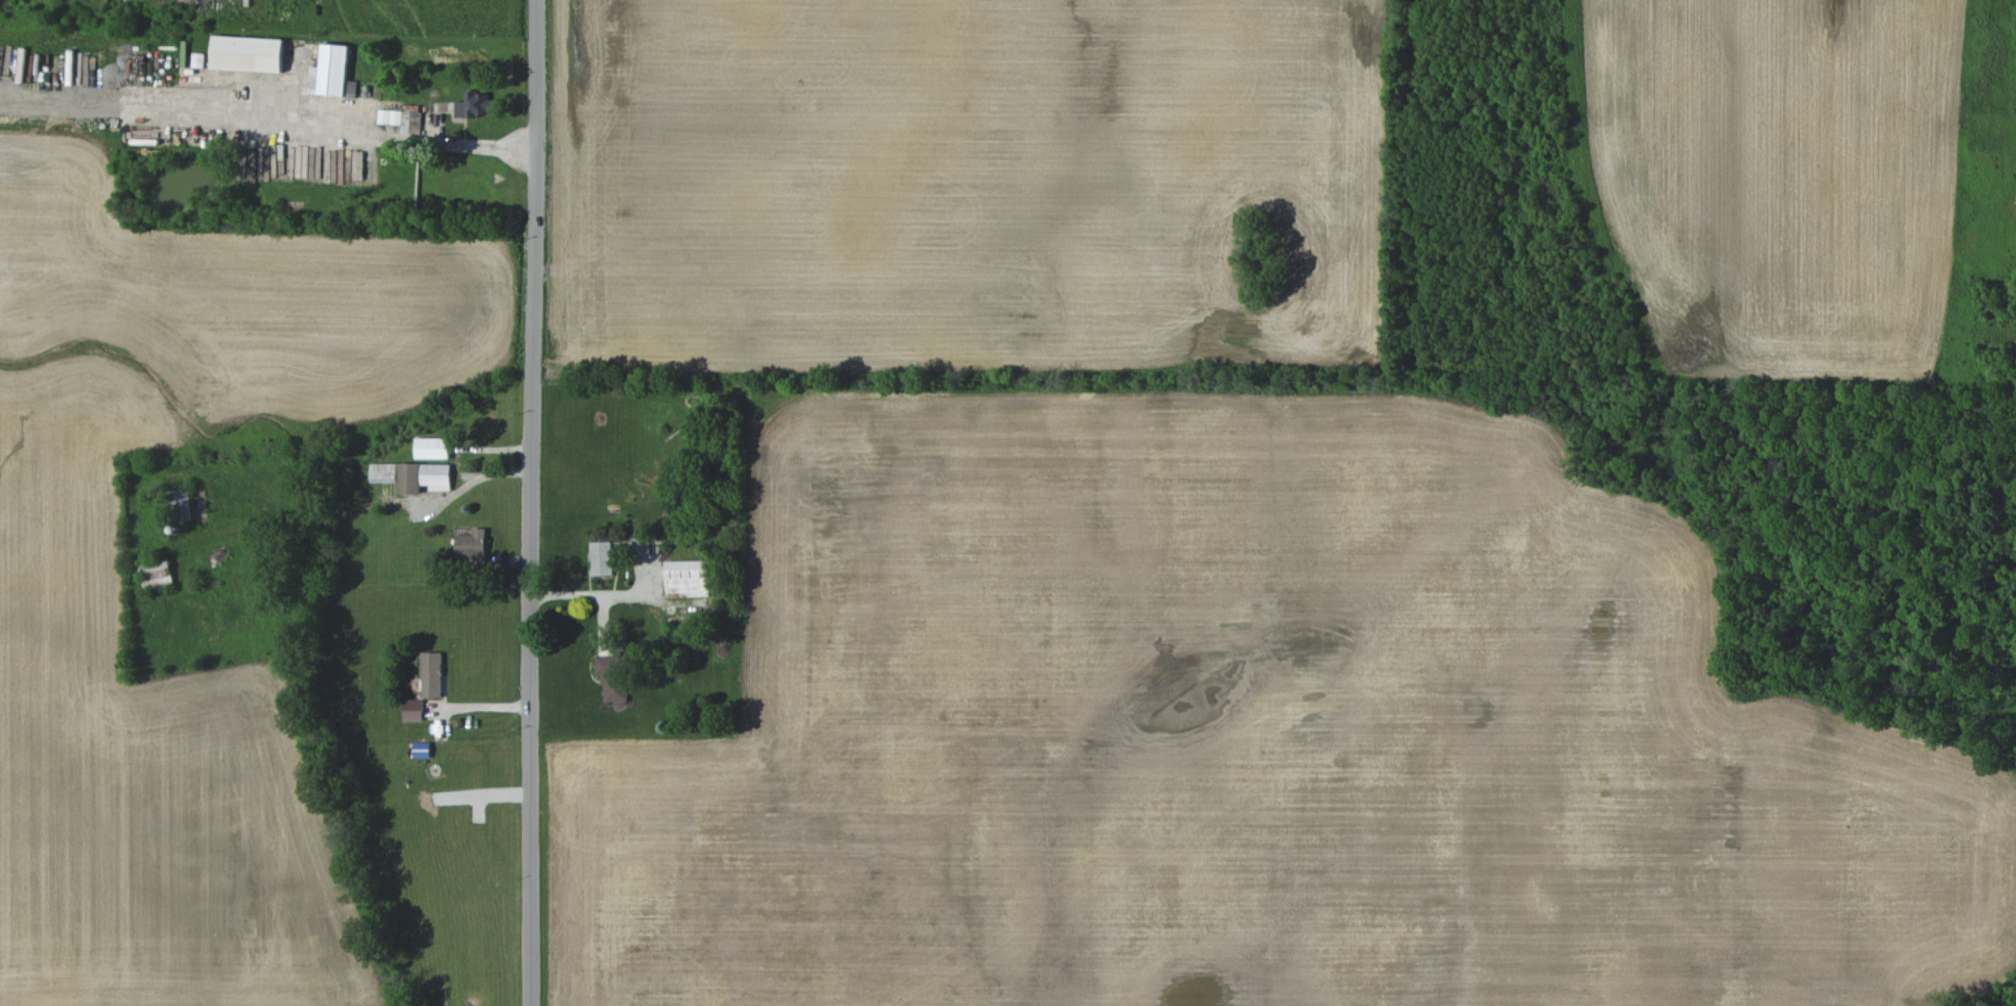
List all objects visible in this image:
building: (248, 53)
building: (332, 73)
building: (476, 105)
building: (402, 119)
road: (249, 121)
building: (432, 448)
building: (383, 472)
building: (423, 477)
road: (347, 488)
road: (530, 502)
building: (182, 504)
building: (472, 545)
building: (640, 546)
building: (602, 558)
building: (157, 574)
building: (687, 578)
road: (589, 593)
building: (432, 674)
building: (611, 677)
building: (413, 710)
building: (421, 749)

